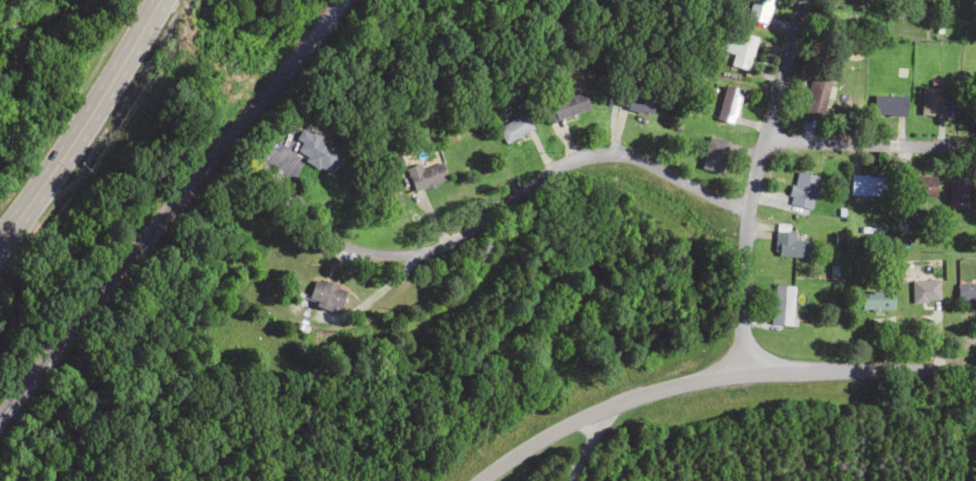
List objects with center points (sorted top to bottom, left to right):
building: (756, 9)
building: (738, 47)
building: (816, 94)
building: (636, 101)
building: (932, 101)
building: (727, 103)
building: (566, 105)
building: (888, 105)
road: (81, 120)
building: (513, 127)
road: (869, 141)
building: (315, 151)
building: (713, 154)
building: (423, 175)
road: (751, 184)
building: (866, 184)
building: (920, 186)
building: (802, 189)
building: (961, 190)
railway: (168, 205)
road: (500, 211)
building: (789, 244)
building: (924, 290)
building: (966, 292)
building: (326, 295)
building: (876, 299)
building: (782, 304)
road: (715, 378)

